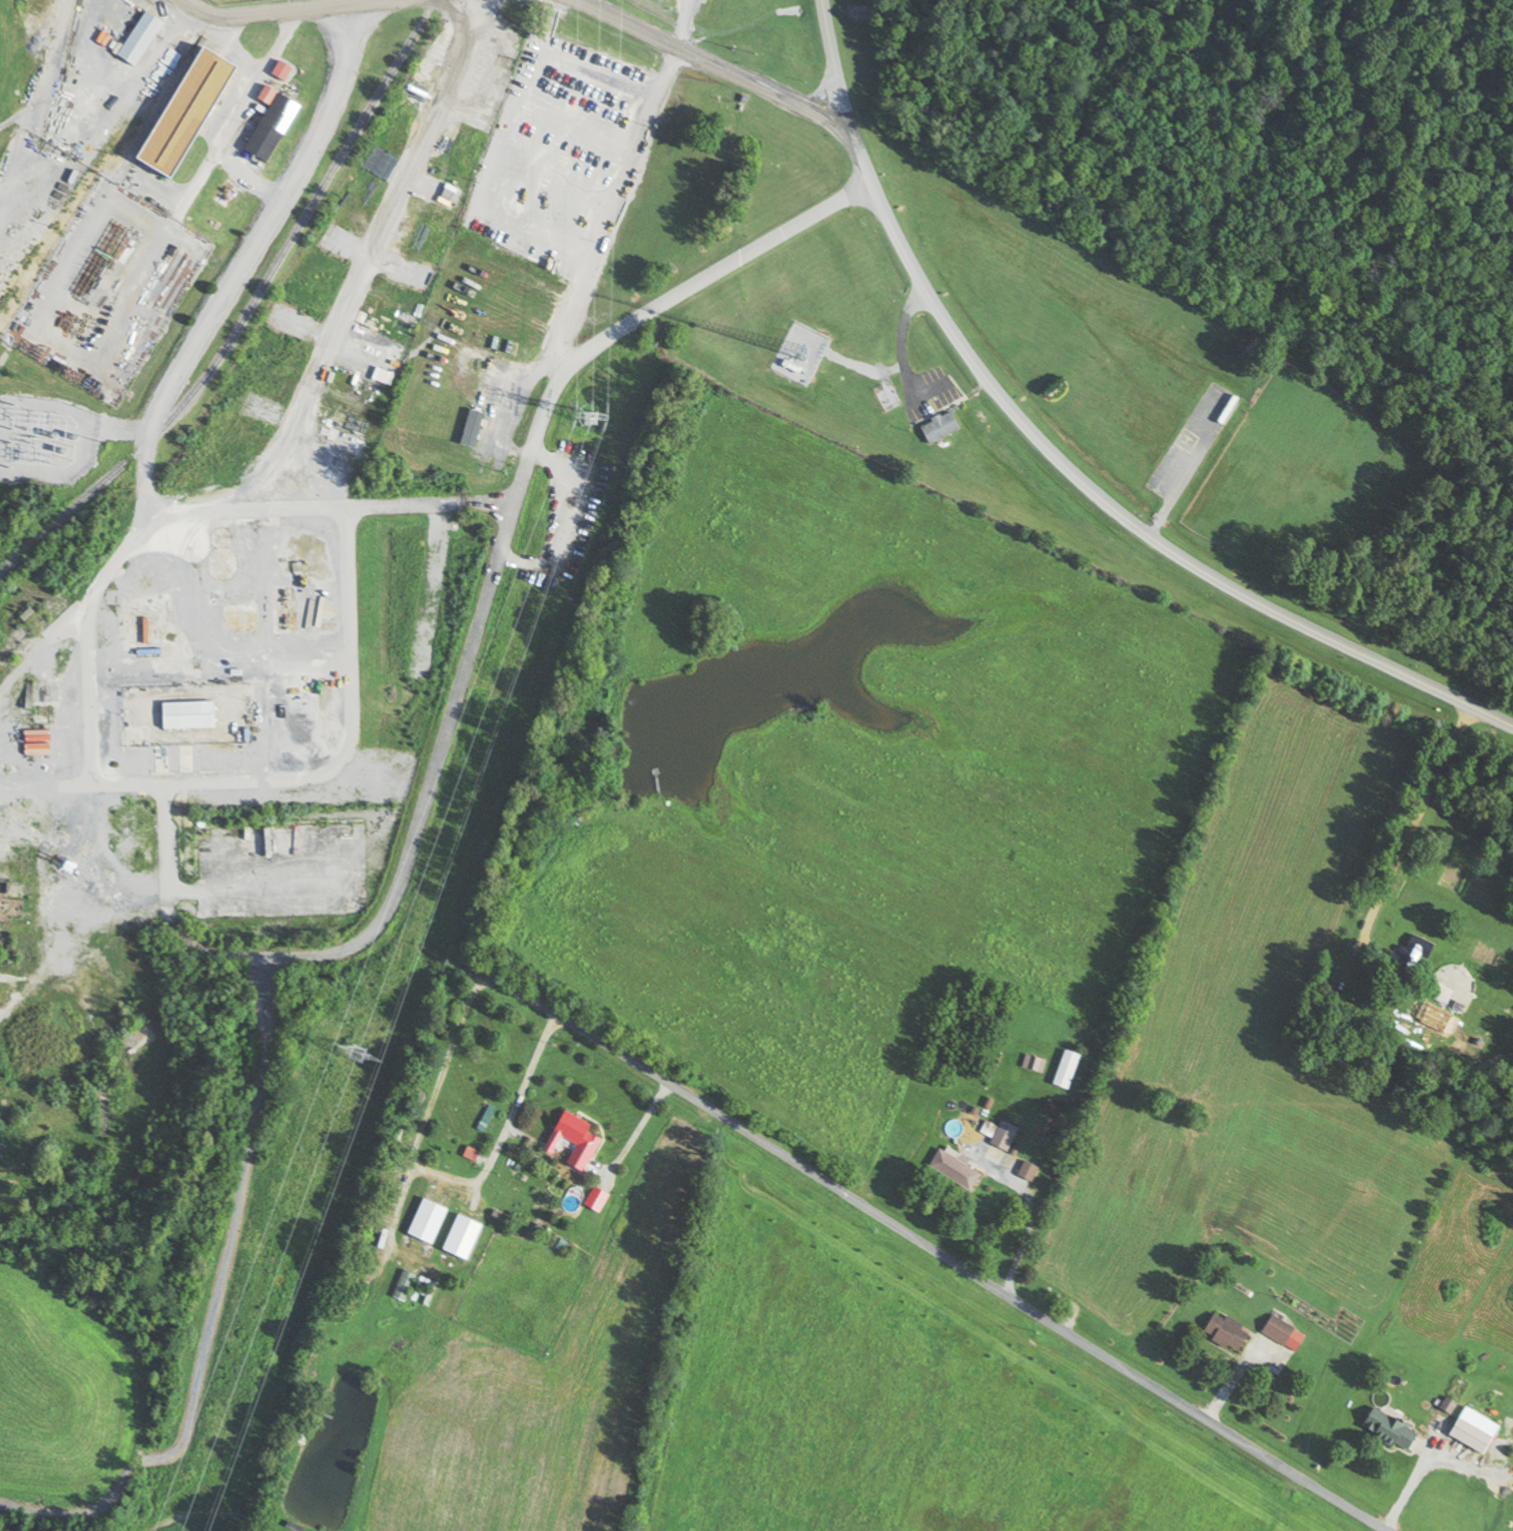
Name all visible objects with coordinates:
power substation: (234, 2)
road: (336, 7)
road: (230, 11)
building: (139, 39)
road: (697, 55)
building: (187, 113)
building: (272, 126)
road: (507, 126)
road: (192, 189)
road: (609, 202)
railway: (247, 311)
road: (516, 387)
power tower: (592, 417)
building: (940, 427)
road: (535, 437)
road: (1061, 457)
road: (1416, 824)
road: (395, 892)
building: (1413, 958)
power tower: (359, 1054)
building: (1033, 1064)
building: (1066, 1070)
building: (1053, 1108)
building: (1048, 1131)
building: (574, 1142)
building: (955, 1171)
building: (1028, 1172)
building: (596, 1201)
building: (427, 1222)
building: (462, 1238)
road: (929, 1244)
building: (404, 1286)
building: (1280, 1331)
building: (1227, 1333)
building: (1392, 1430)
building: (1472, 1436)

